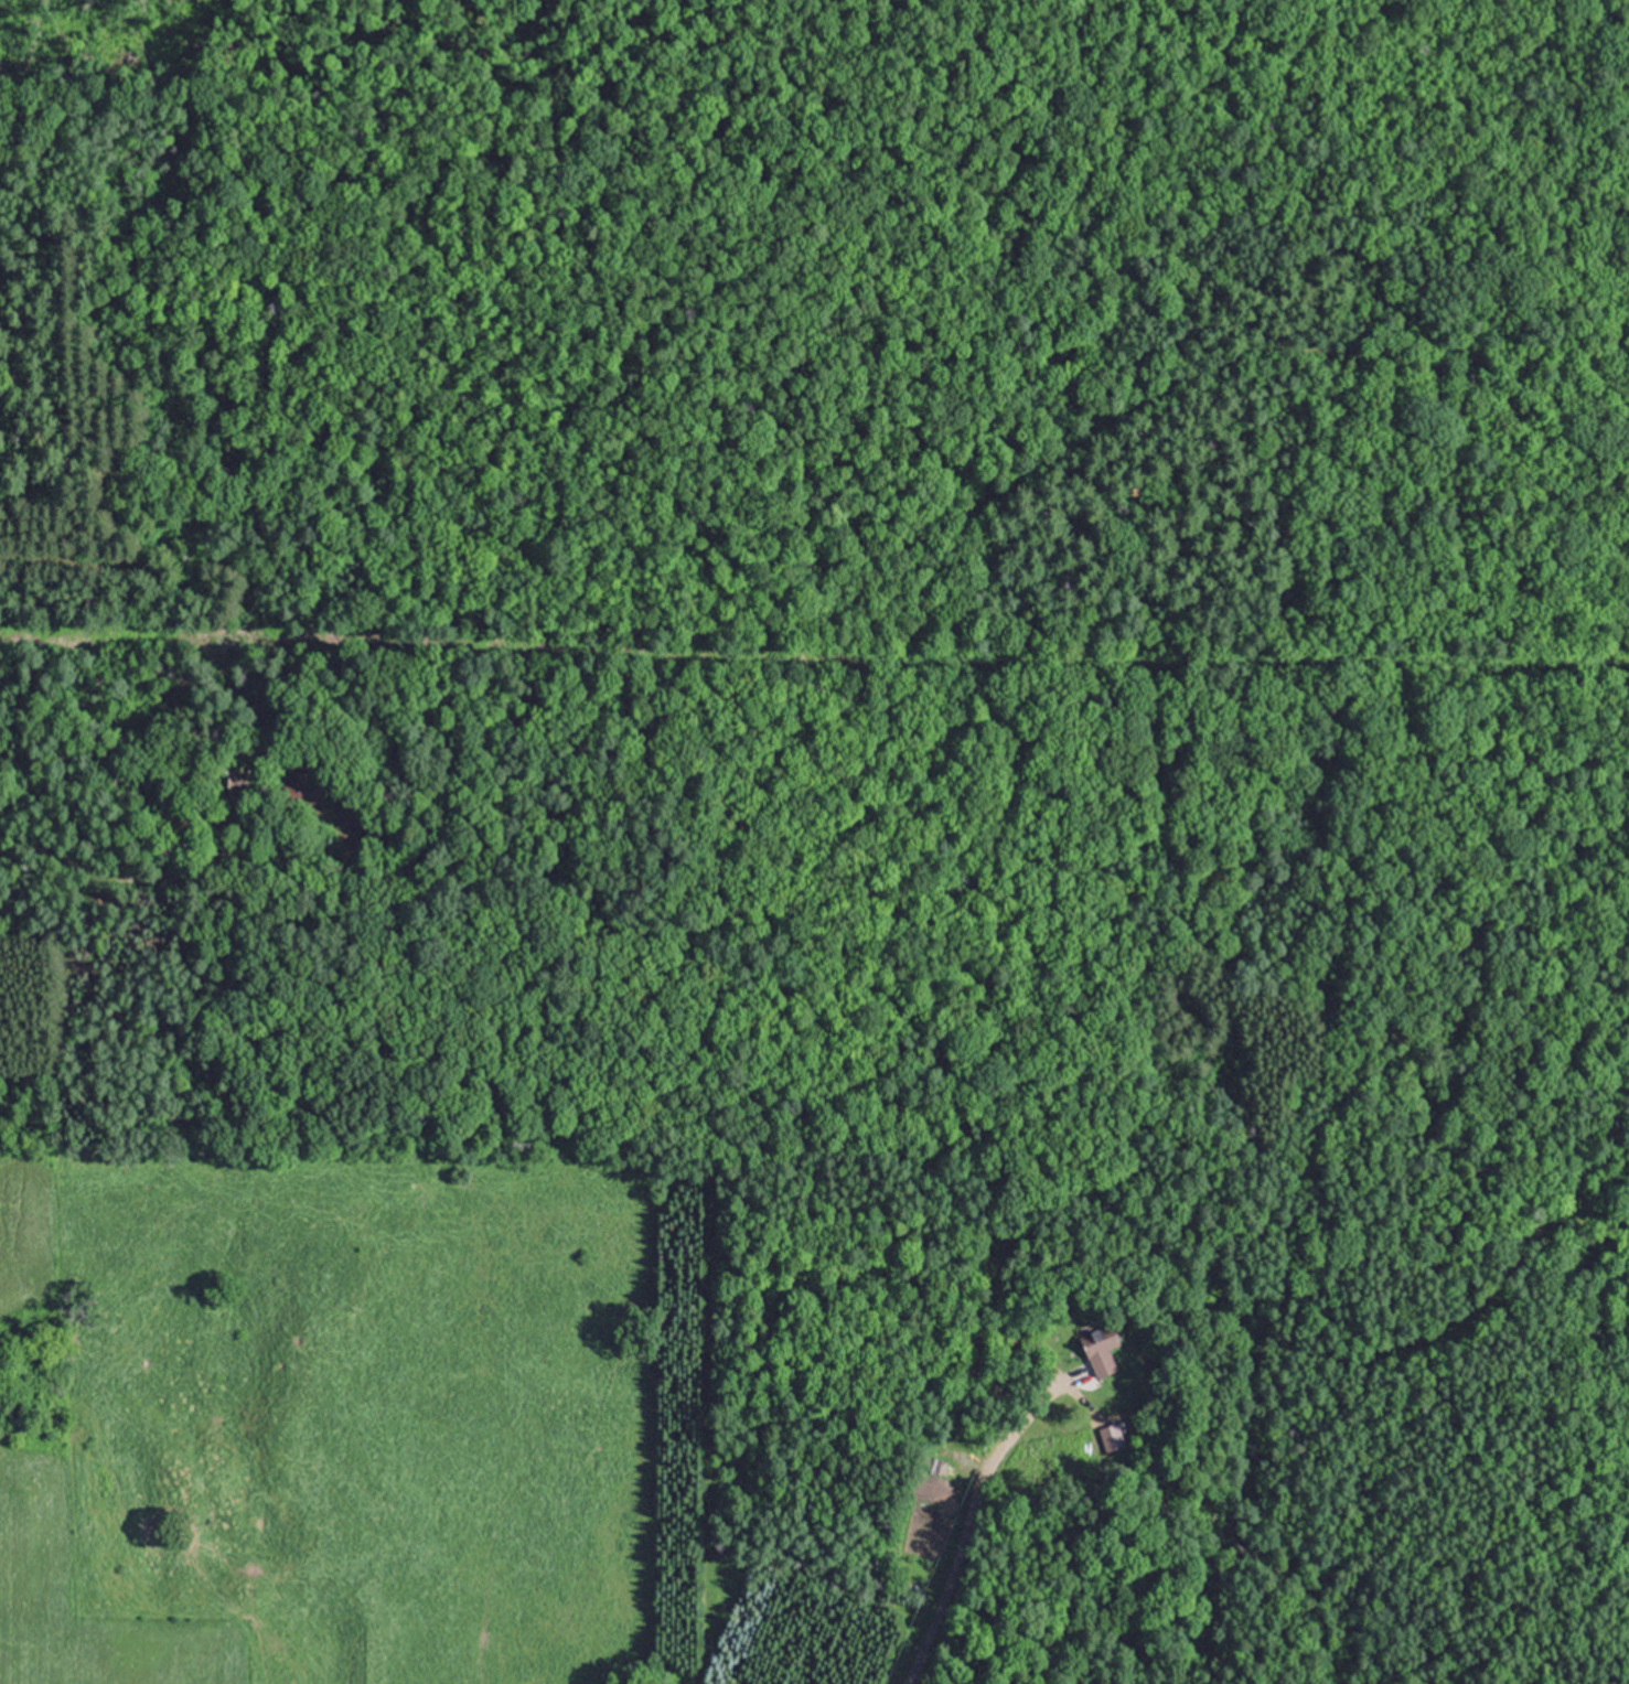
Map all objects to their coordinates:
road: (807, 654)
building: (293, 787)
building: (340, 812)
road: (154, 871)
building: (1102, 1347)
road: (965, 1524)

